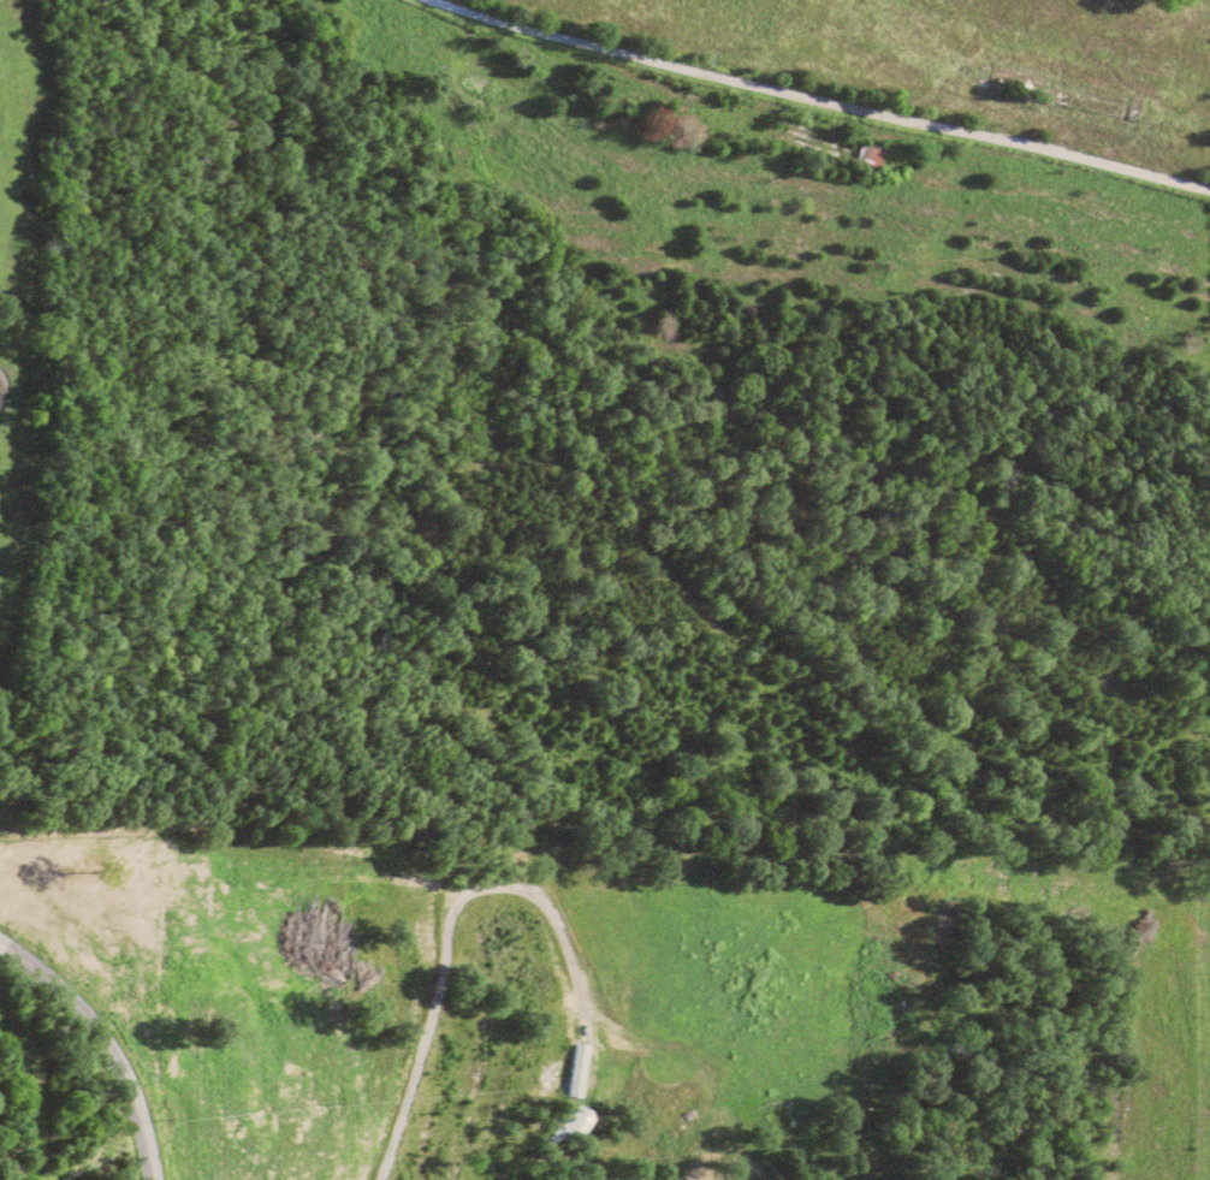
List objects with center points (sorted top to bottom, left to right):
road: (818, 103)
road: (490, 887)
road: (109, 1039)
building: (569, 1120)

